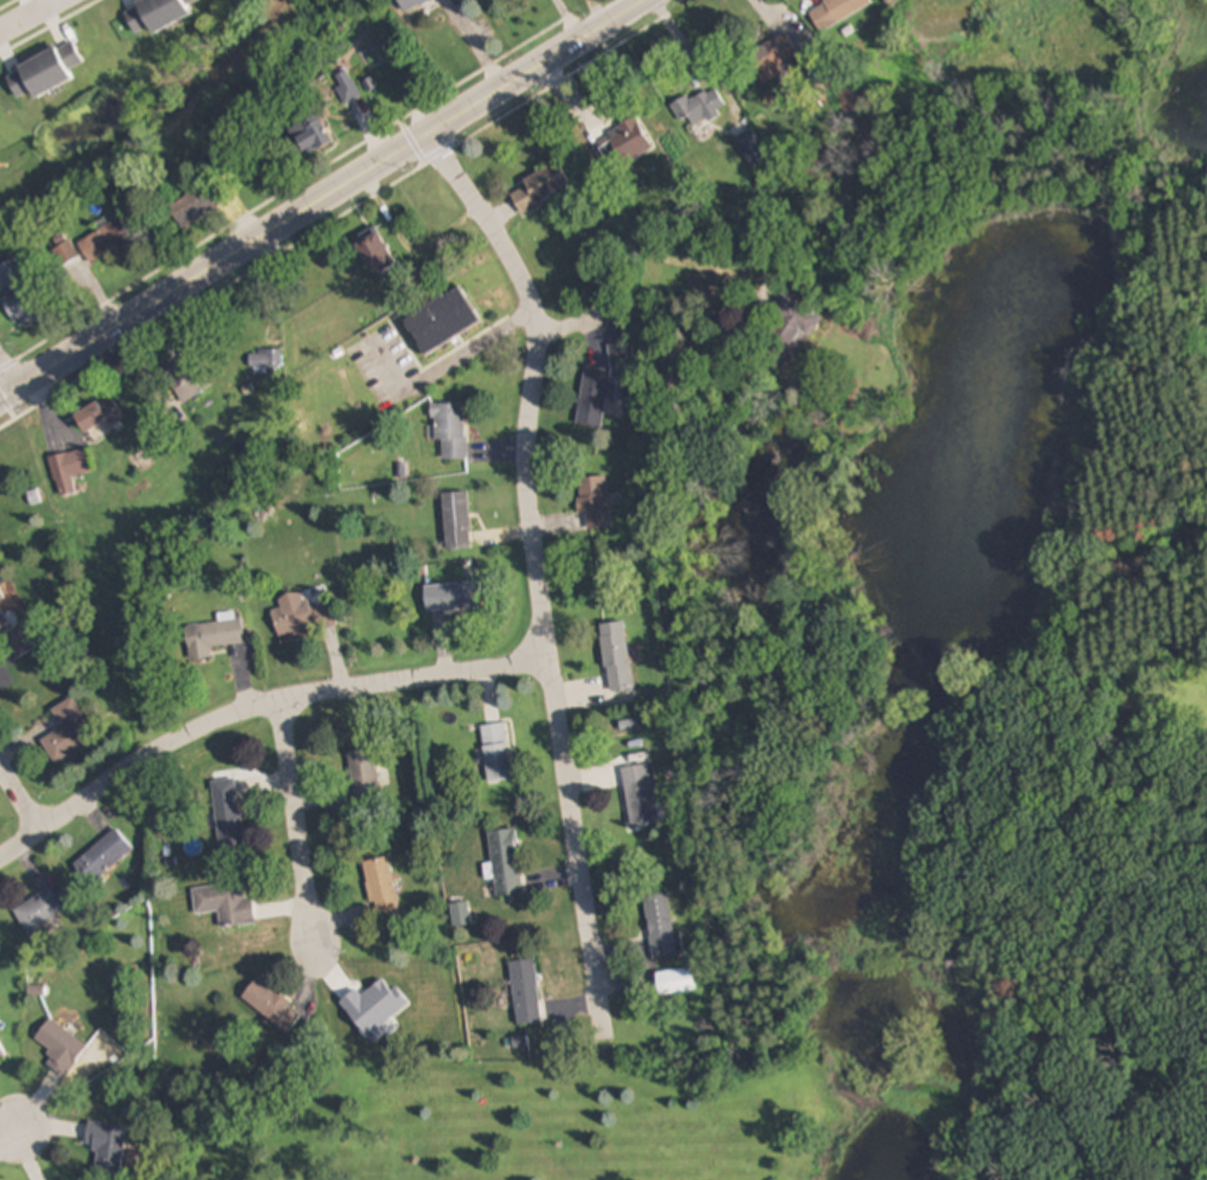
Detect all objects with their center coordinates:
building: (412, 4)
building: (835, 12)
building: (156, 13)
road: (29, 16)
building: (773, 59)
building: (45, 72)
building: (349, 88)
building: (699, 108)
building: (310, 137)
building: (629, 142)
building: (539, 188)
road: (329, 203)
building: (197, 206)
road: (567, 231)
building: (105, 241)
building: (375, 252)
building: (69, 256)
building: (11, 275)
building: (20, 311)
building: (443, 321)
building: (786, 325)
building: (266, 360)
road: (17, 361)
building: (188, 380)
building: (594, 399)
building: (99, 417)
building: (450, 431)
building: (70, 466)
building: (594, 503)
building: (456, 521)
road: (540, 571)
building: (1, 597)
building: (452, 597)
building: (301, 615)
building: (2, 620)
building: (213, 638)
building: (18, 643)
building: (617, 663)
park: (942, 700)
road: (261, 718)
building: (69, 733)
building: (496, 754)
building: (363, 778)
road: (23, 786)
building: (640, 796)
building: (226, 814)
road: (307, 822)
building: (102, 857)
building: (507, 863)
building: (381, 890)
building: (225, 904)
building: (40, 911)
building: (460, 915)
building: (661, 927)
building: (0, 950)
building: (675, 983)
building: (525, 993)
building: (271, 1007)
building: (61, 1049)
building: (2, 1056)
road: (12, 1132)
building: (107, 1147)

